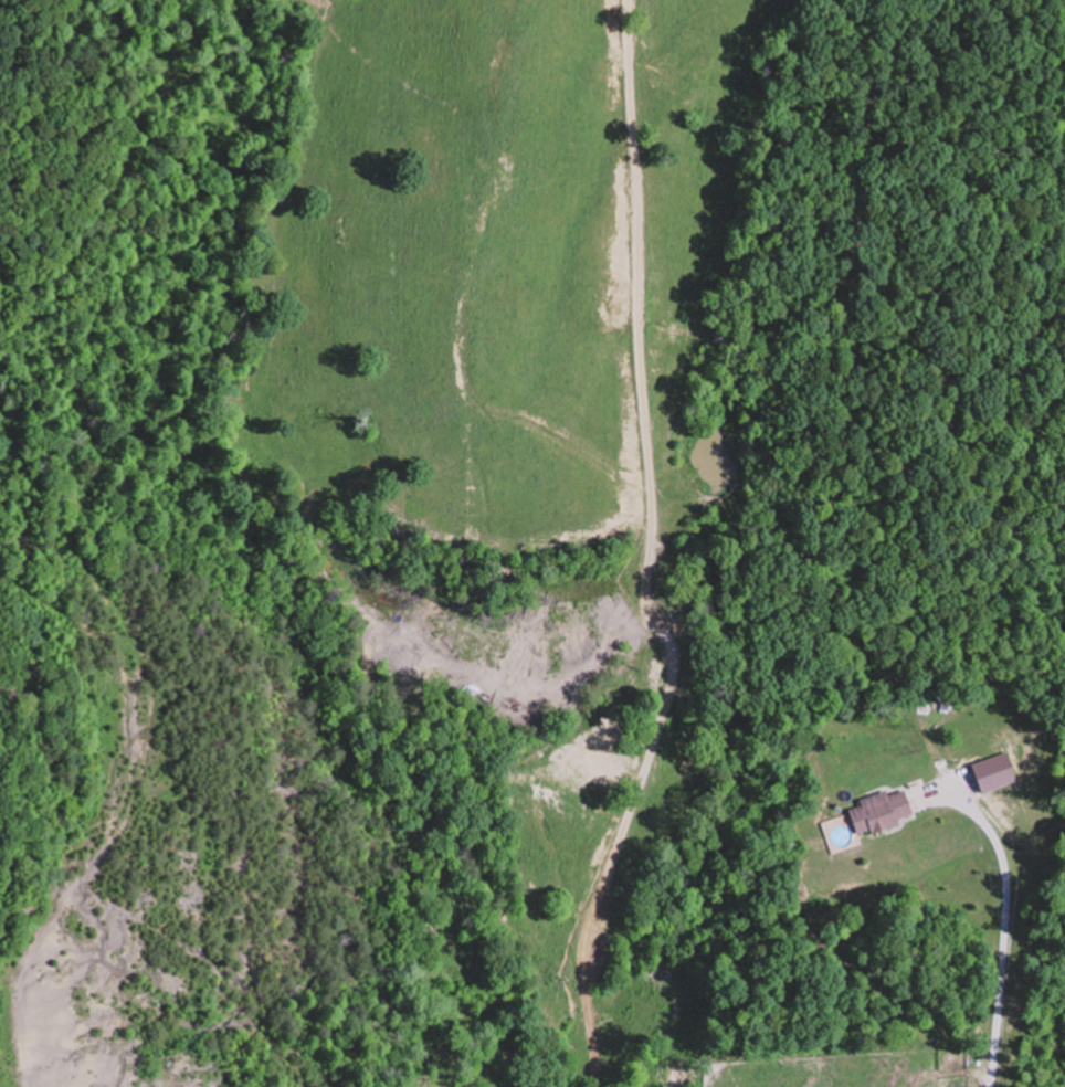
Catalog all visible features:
building: (884, 811)
road: (1004, 931)

